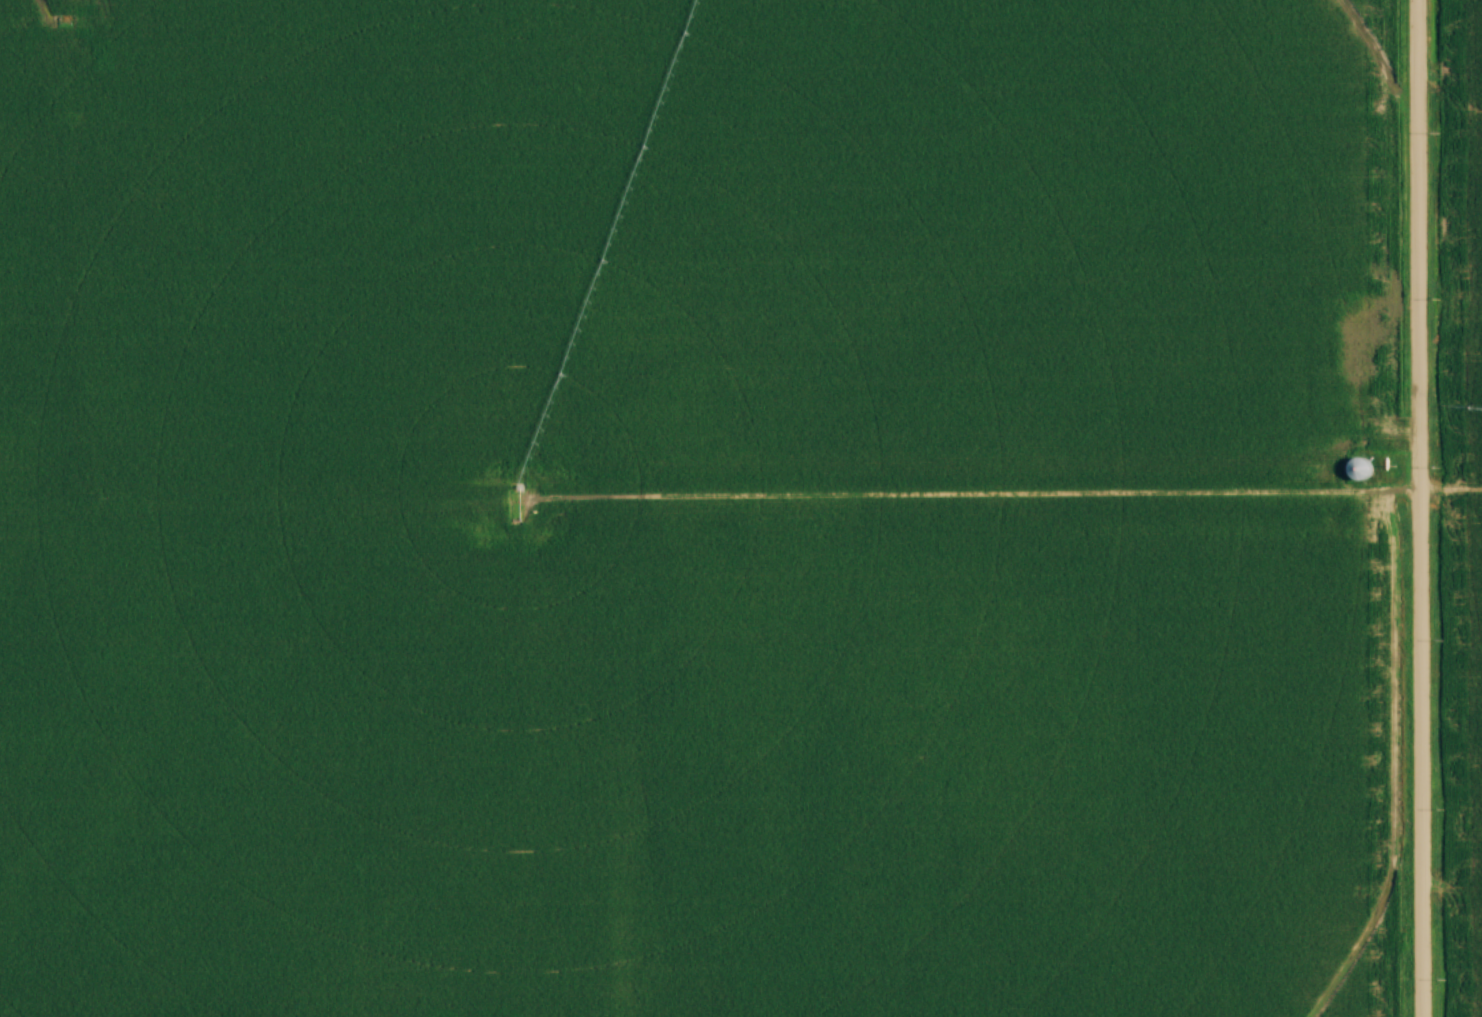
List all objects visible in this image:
road: (1420, 508)

